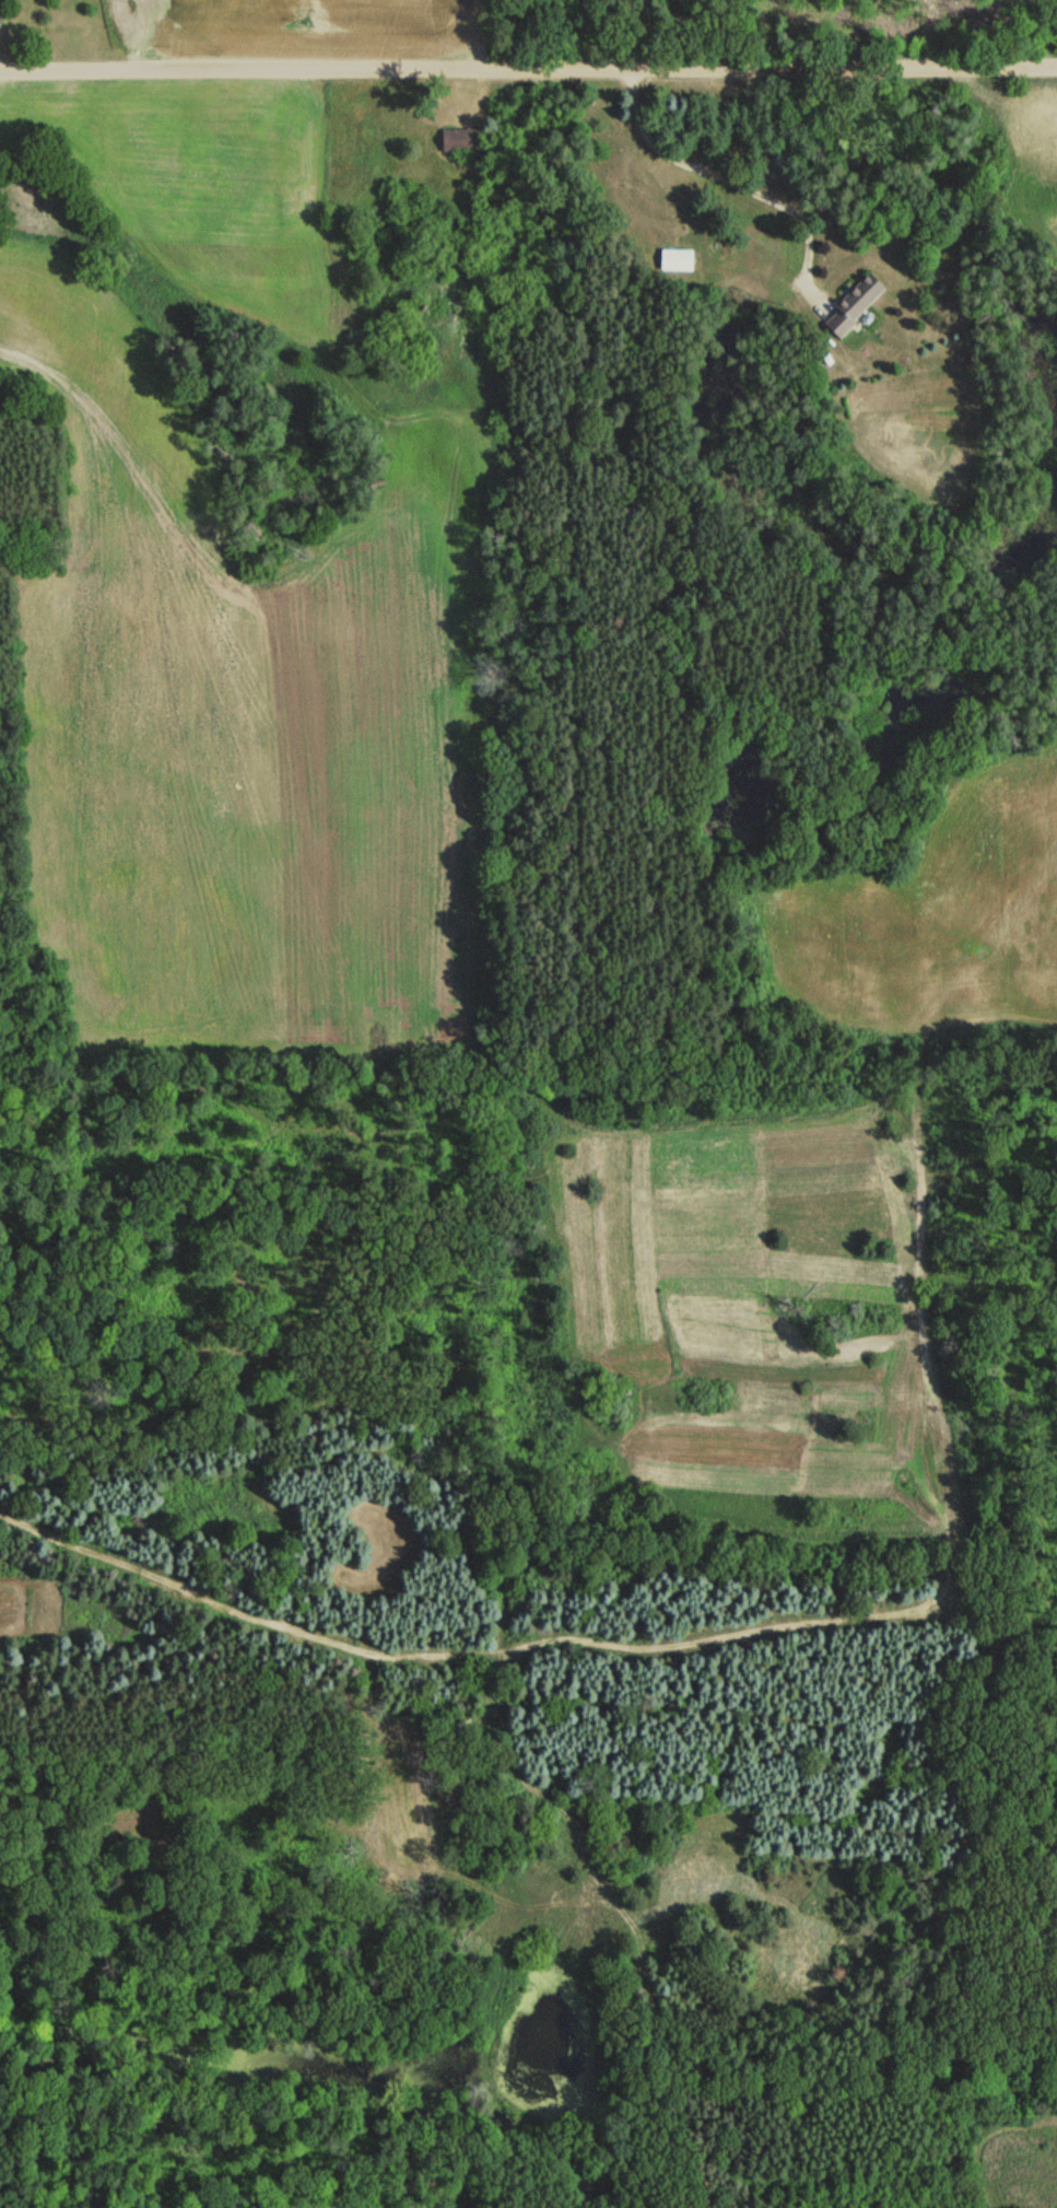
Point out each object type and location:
road: (528, 63)
building: (461, 141)
road: (721, 180)
building: (676, 260)
building: (853, 306)
road: (166, 2069)

